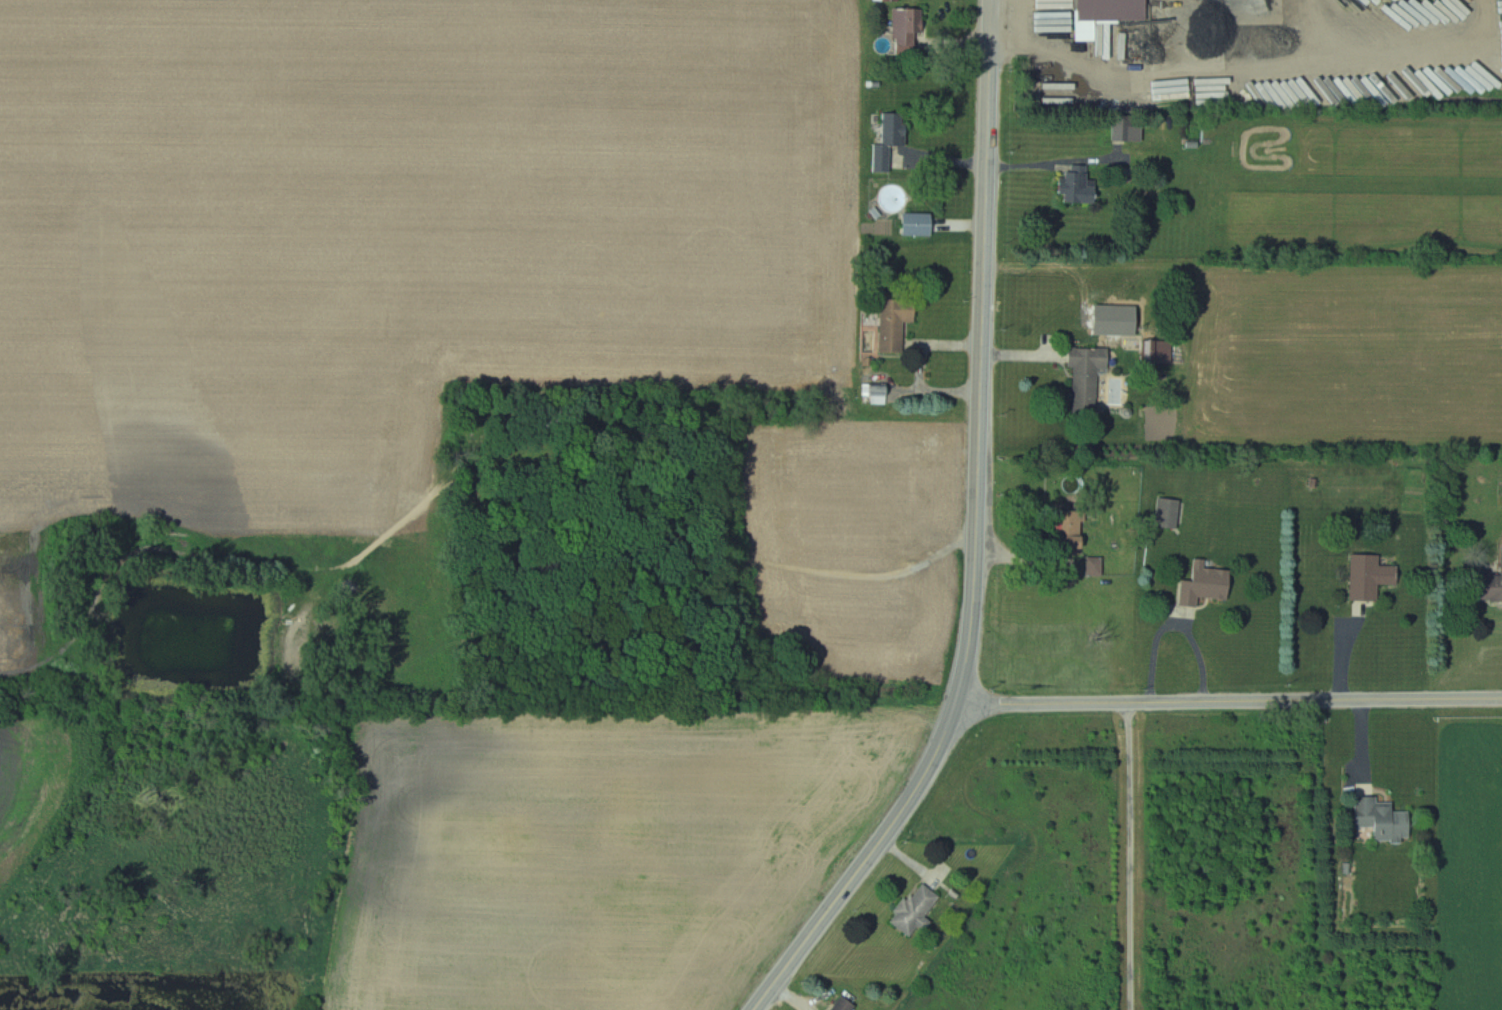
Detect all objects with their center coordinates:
building: (887, 0)
building: (1113, 10)
building: (910, 31)
road: (1250, 61)
building: (892, 141)
building: (1079, 187)
building: (920, 225)
building: (897, 323)
building: (1157, 352)
building: (1088, 374)
building: (880, 394)
road: (490, 472)
road: (609, 506)
building: (1170, 513)
road: (977, 537)
building: (1371, 577)
building: (1207, 584)
building: (1492, 587)
road: (1229, 700)
building: (1384, 819)
road: (1130, 855)
building: (917, 909)
building: (846, 1005)

